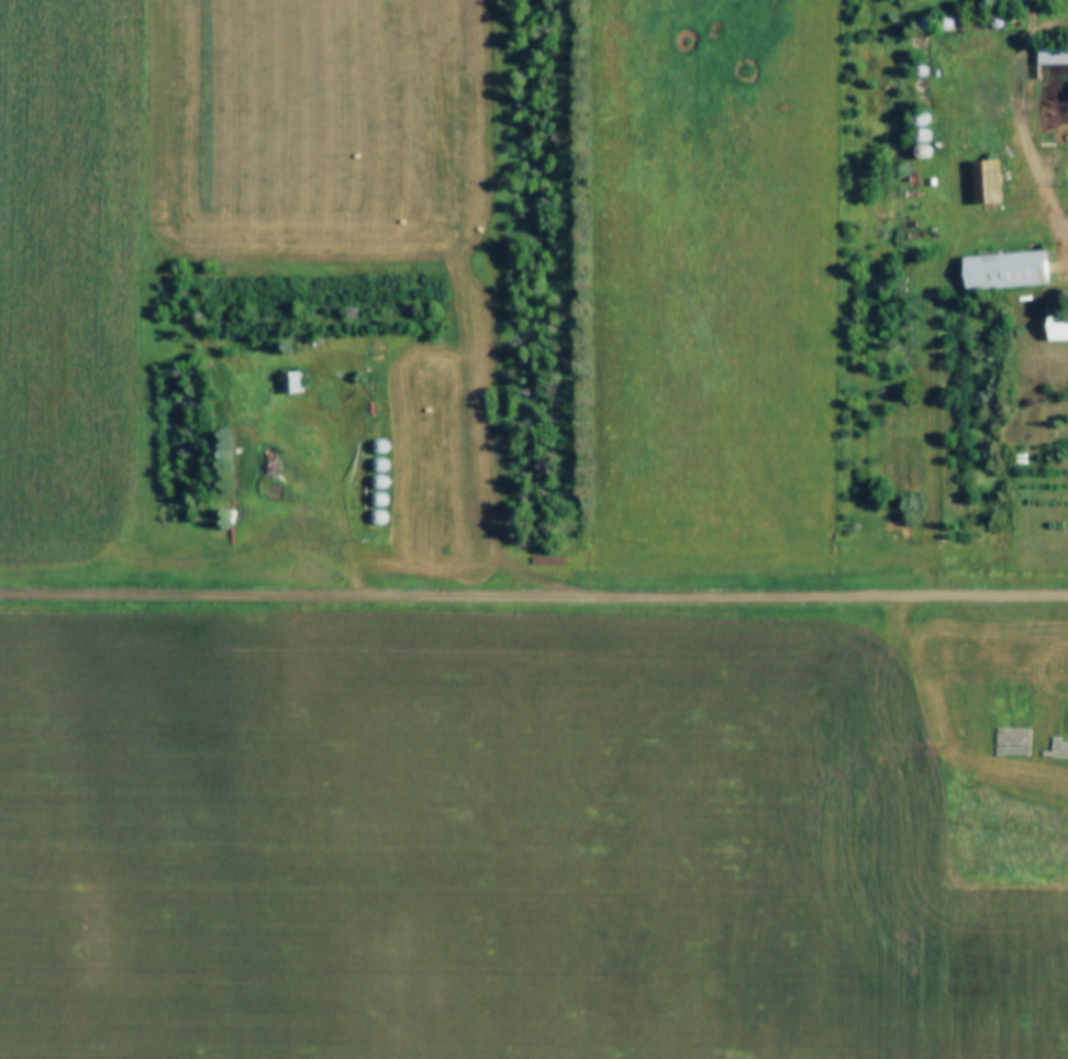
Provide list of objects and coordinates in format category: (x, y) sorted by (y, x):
building: (990, 21)
silo: (990, 21)
building: (920, 22)
silo: (920, 22)
building: (938, 22)
silo: (938, 22)
road: (1016, 37)
building: (1048, 54)
building: (911, 70)
silo: (911, 70)
building: (914, 121)
silo: (914, 121)
building: (915, 136)
silo: (915, 136)
building: (915, 153)
silo: (915, 153)
road: (1023, 171)
building: (979, 183)
building: (998, 271)
building: (1055, 327)
building: (283, 382)
building: (372, 447)
silo: (372, 447)
building: (371, 466)
silo: (371, 466)
road: (471, 475)
building: (371, 482)
silo: (371, 482)
building: (371, 500)
silo: (371, 500)
building: (371, 519)
silo: (371, 519)
road: (534, 599)

